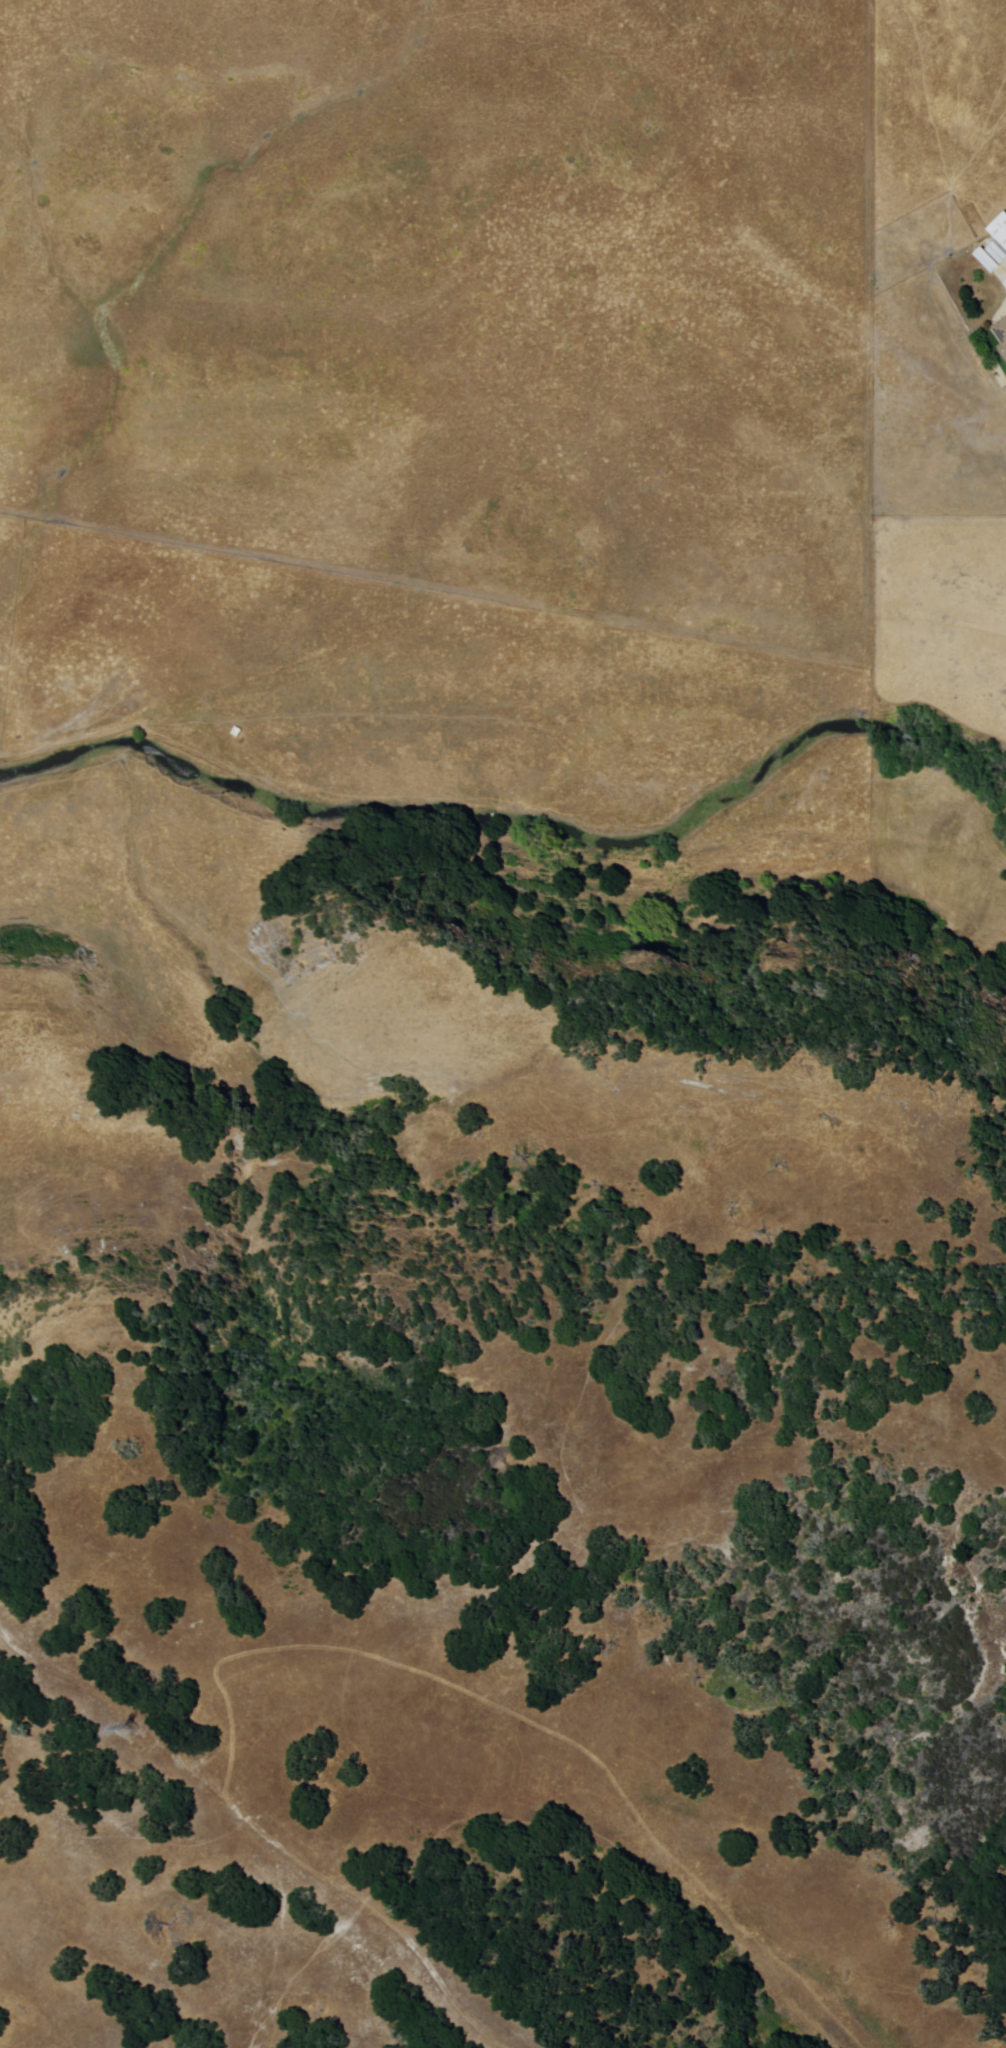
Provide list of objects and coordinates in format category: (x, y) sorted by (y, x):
building: (1000, 231)
building: (992, 258)
building: (1002, 335)
power tower: (126, 1731)

